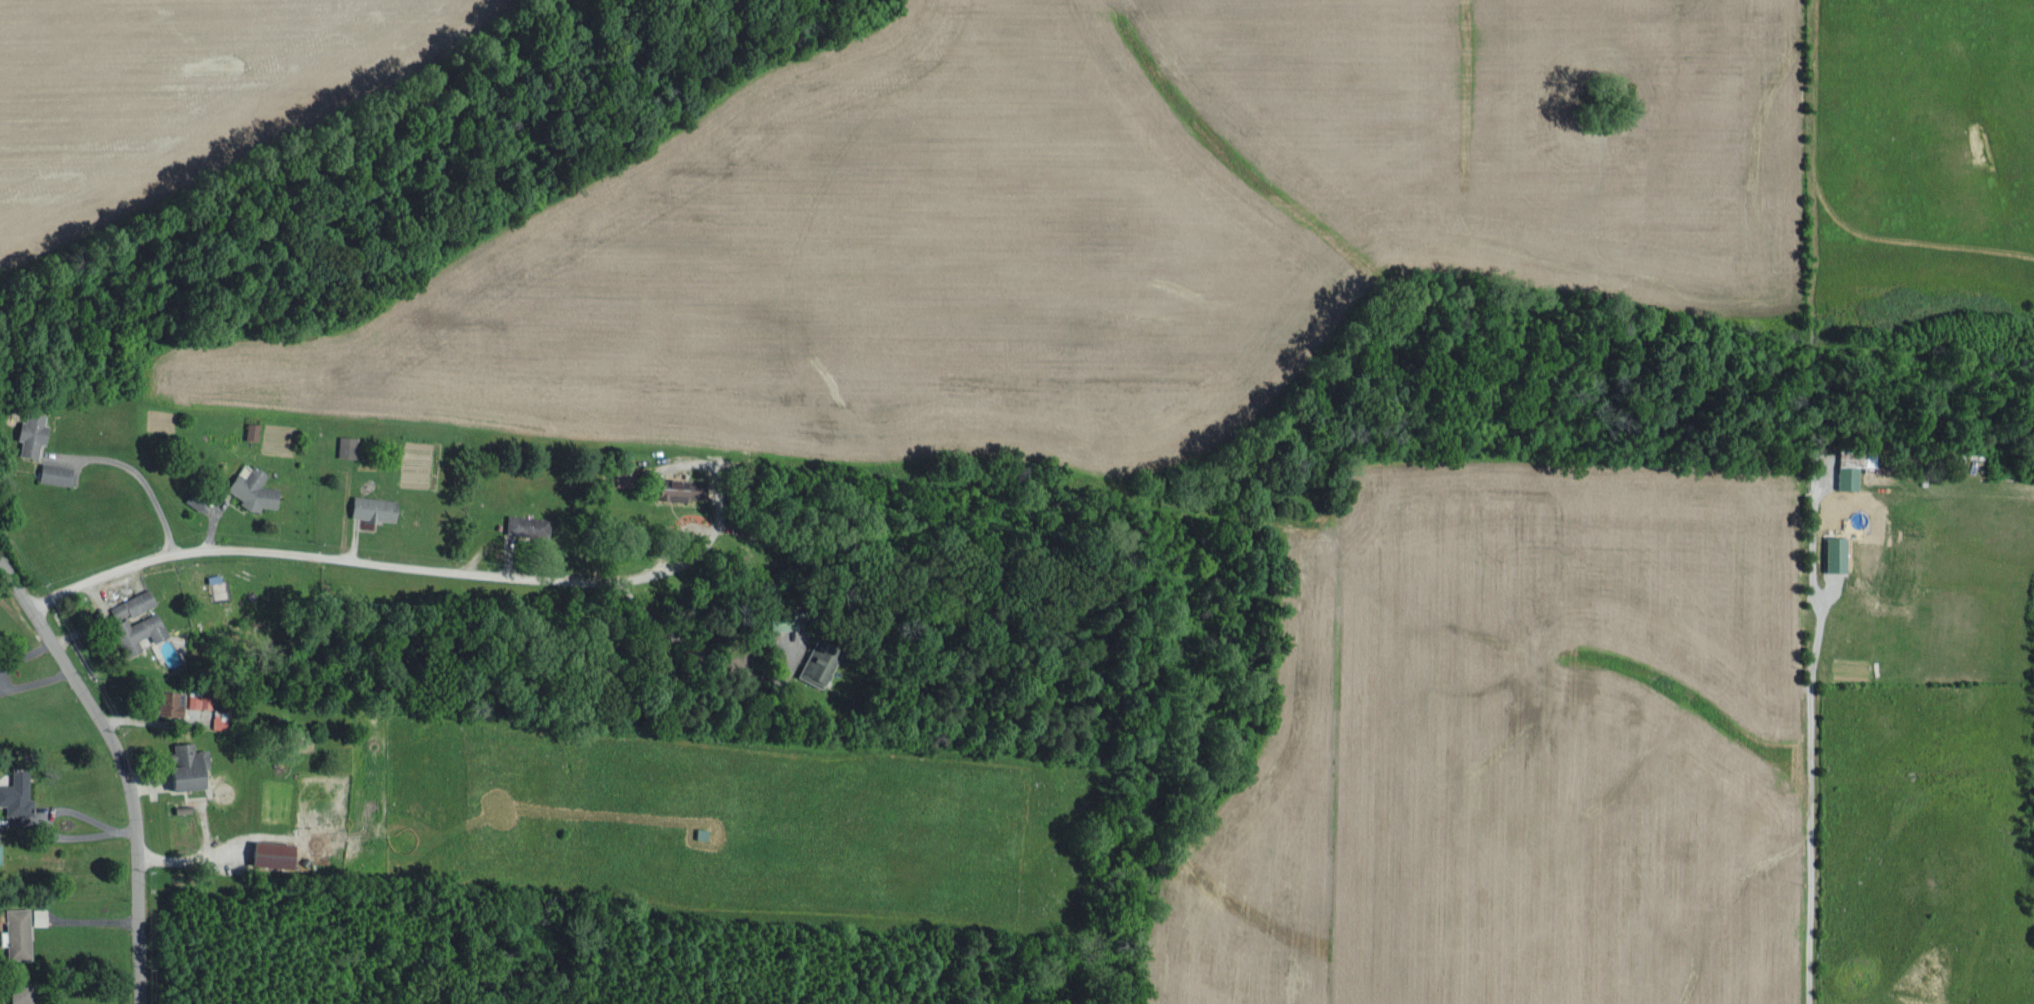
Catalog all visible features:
building: (248, 430)
building: (26, 432)
building: (343, 446)
building: (51, 472)
building: (1843, 477)
building: (249, 488)
building: (368, 507)
building: (524, 526)
building: (1831, 553)
road: (320, 554)
building: (128, 604)
building: (776, 620)
building: (133, 631)
building: (812, 665)
building: (190, 699)
building: (165, 702)
road: (120, 766)
building: (182, 766)
building: (14, 794)
building: (266, 853)
building: (35, 915)
building: (14, 932)
building: (17, 993)

